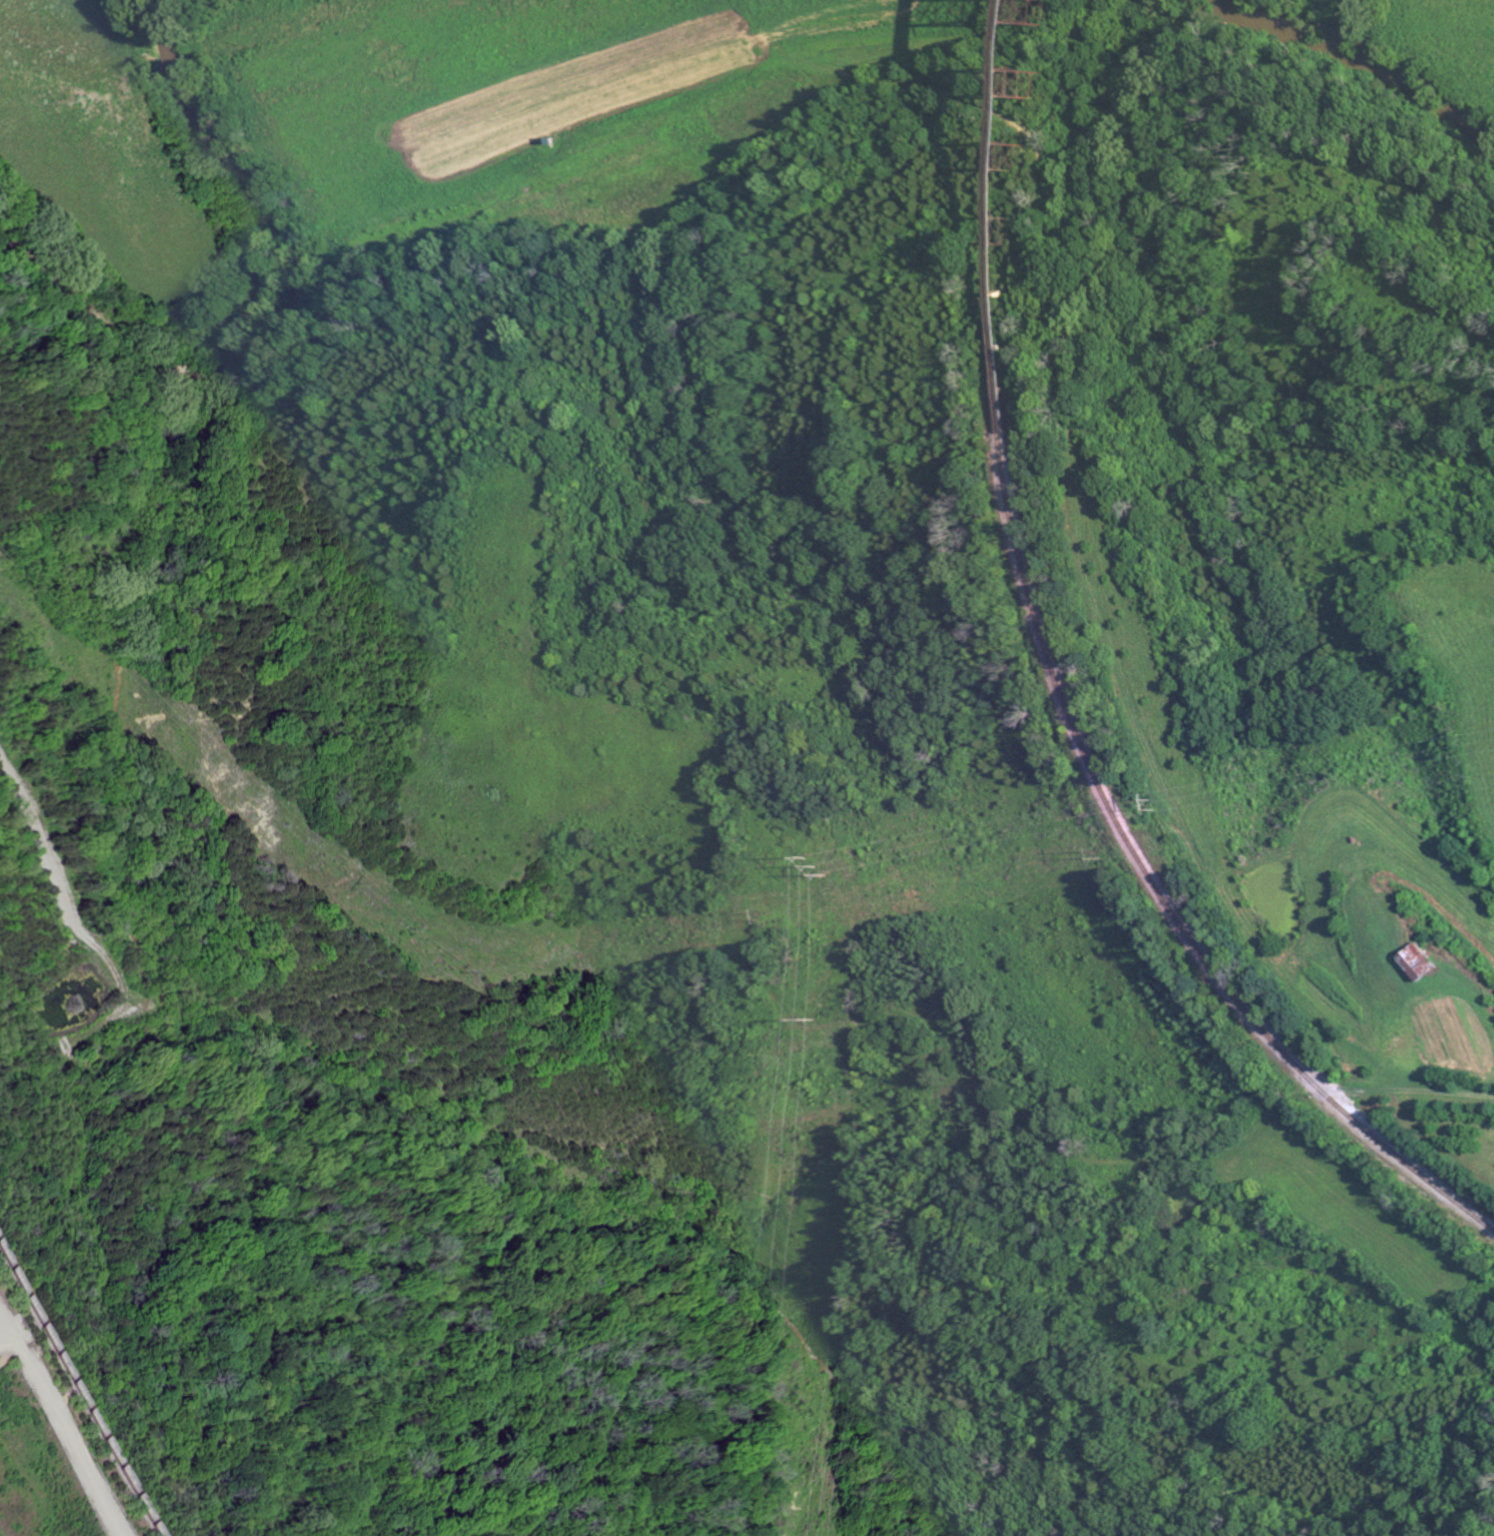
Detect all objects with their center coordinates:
railway: (997, 219)
power tower: (1154, 801)
power tower: (1097, 850)
power tower: (813, 863)
power tower: (350, 882)
railway: (1159, 887)
power tower: (759, 912)
building: (1423, 963)
power tower: (454, 971)
power tower: (810, 1018)
railway: (81, 1419)
road: (58, 1454)

